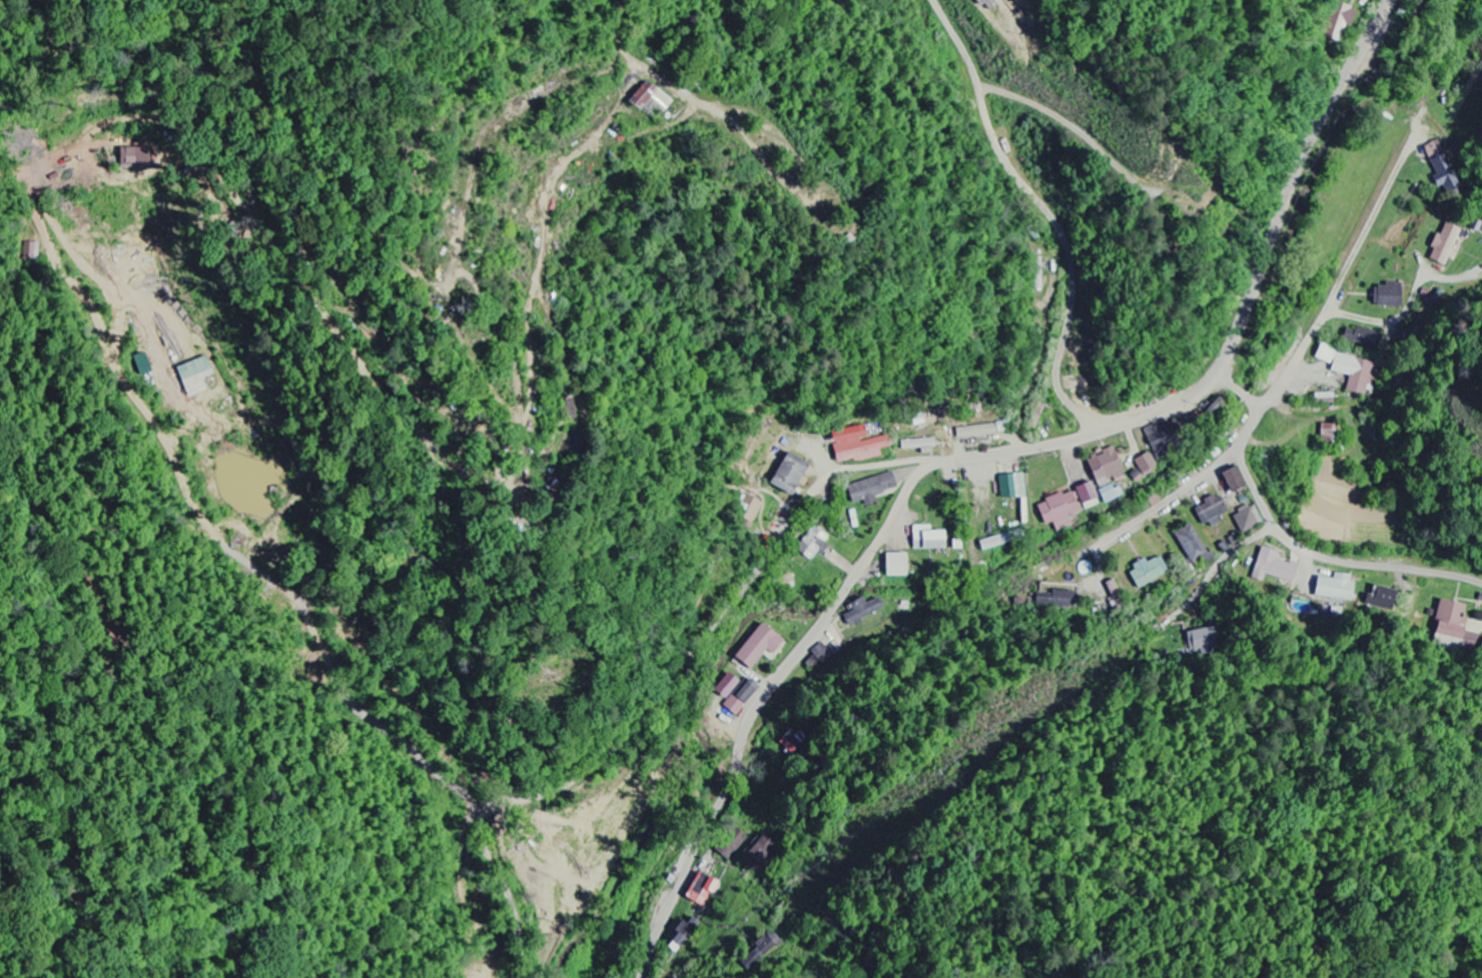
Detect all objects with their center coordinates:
building: (988, 4)
building: (1340, 19)
building: (650, 98)
road: (1066, 123)
building: (134, 158)
building: (1445, 174)
road: (1048, 212)
building: (1444, 245)
road: (1340, 284)
building: (1387, 296)
building: (1363, 338)
building: (141, 365)
building: (1351, 370)
building: (194, 376)
road: (1241, 393)
building: (976, 431)
building: (1326, 433)
building: (1159, 440)
building: (918, 444)
building: (857, 446)
road: (991, 454)
building: (1104, 466)
building: (1144, 467)
building: (787, 473)
building: (1232, 480)
building: (1012, 486)
building: (872, 489)
building: (1111, 494)
building: (1087, 496)
road: (1167, 498)
building: (1058, 511)
building: (1210, 511)
building: (747, 513)
building: (1247, 519)
building: (927, 539)
building: (992, 543)
building: (813, 544)
building: (1192, 545)
road: (1239, 546)
road: (1316, 554)
building: (895, 565)
building: (1273, 567)
building: (1149, 572)
building: (1335, 587)
building: (1383, 598)
building: (1056, 600)
building: (1451, 620)
building: (1206, 641)
building: (760, 647)
building: (1481, 652)
building: (726, 686)
road: (658, 697)
building: (740, 698)
building: (730, 847)
building: (759, 853)
building: (702, 891)
building: (681, 930)
building: (761, 951)

